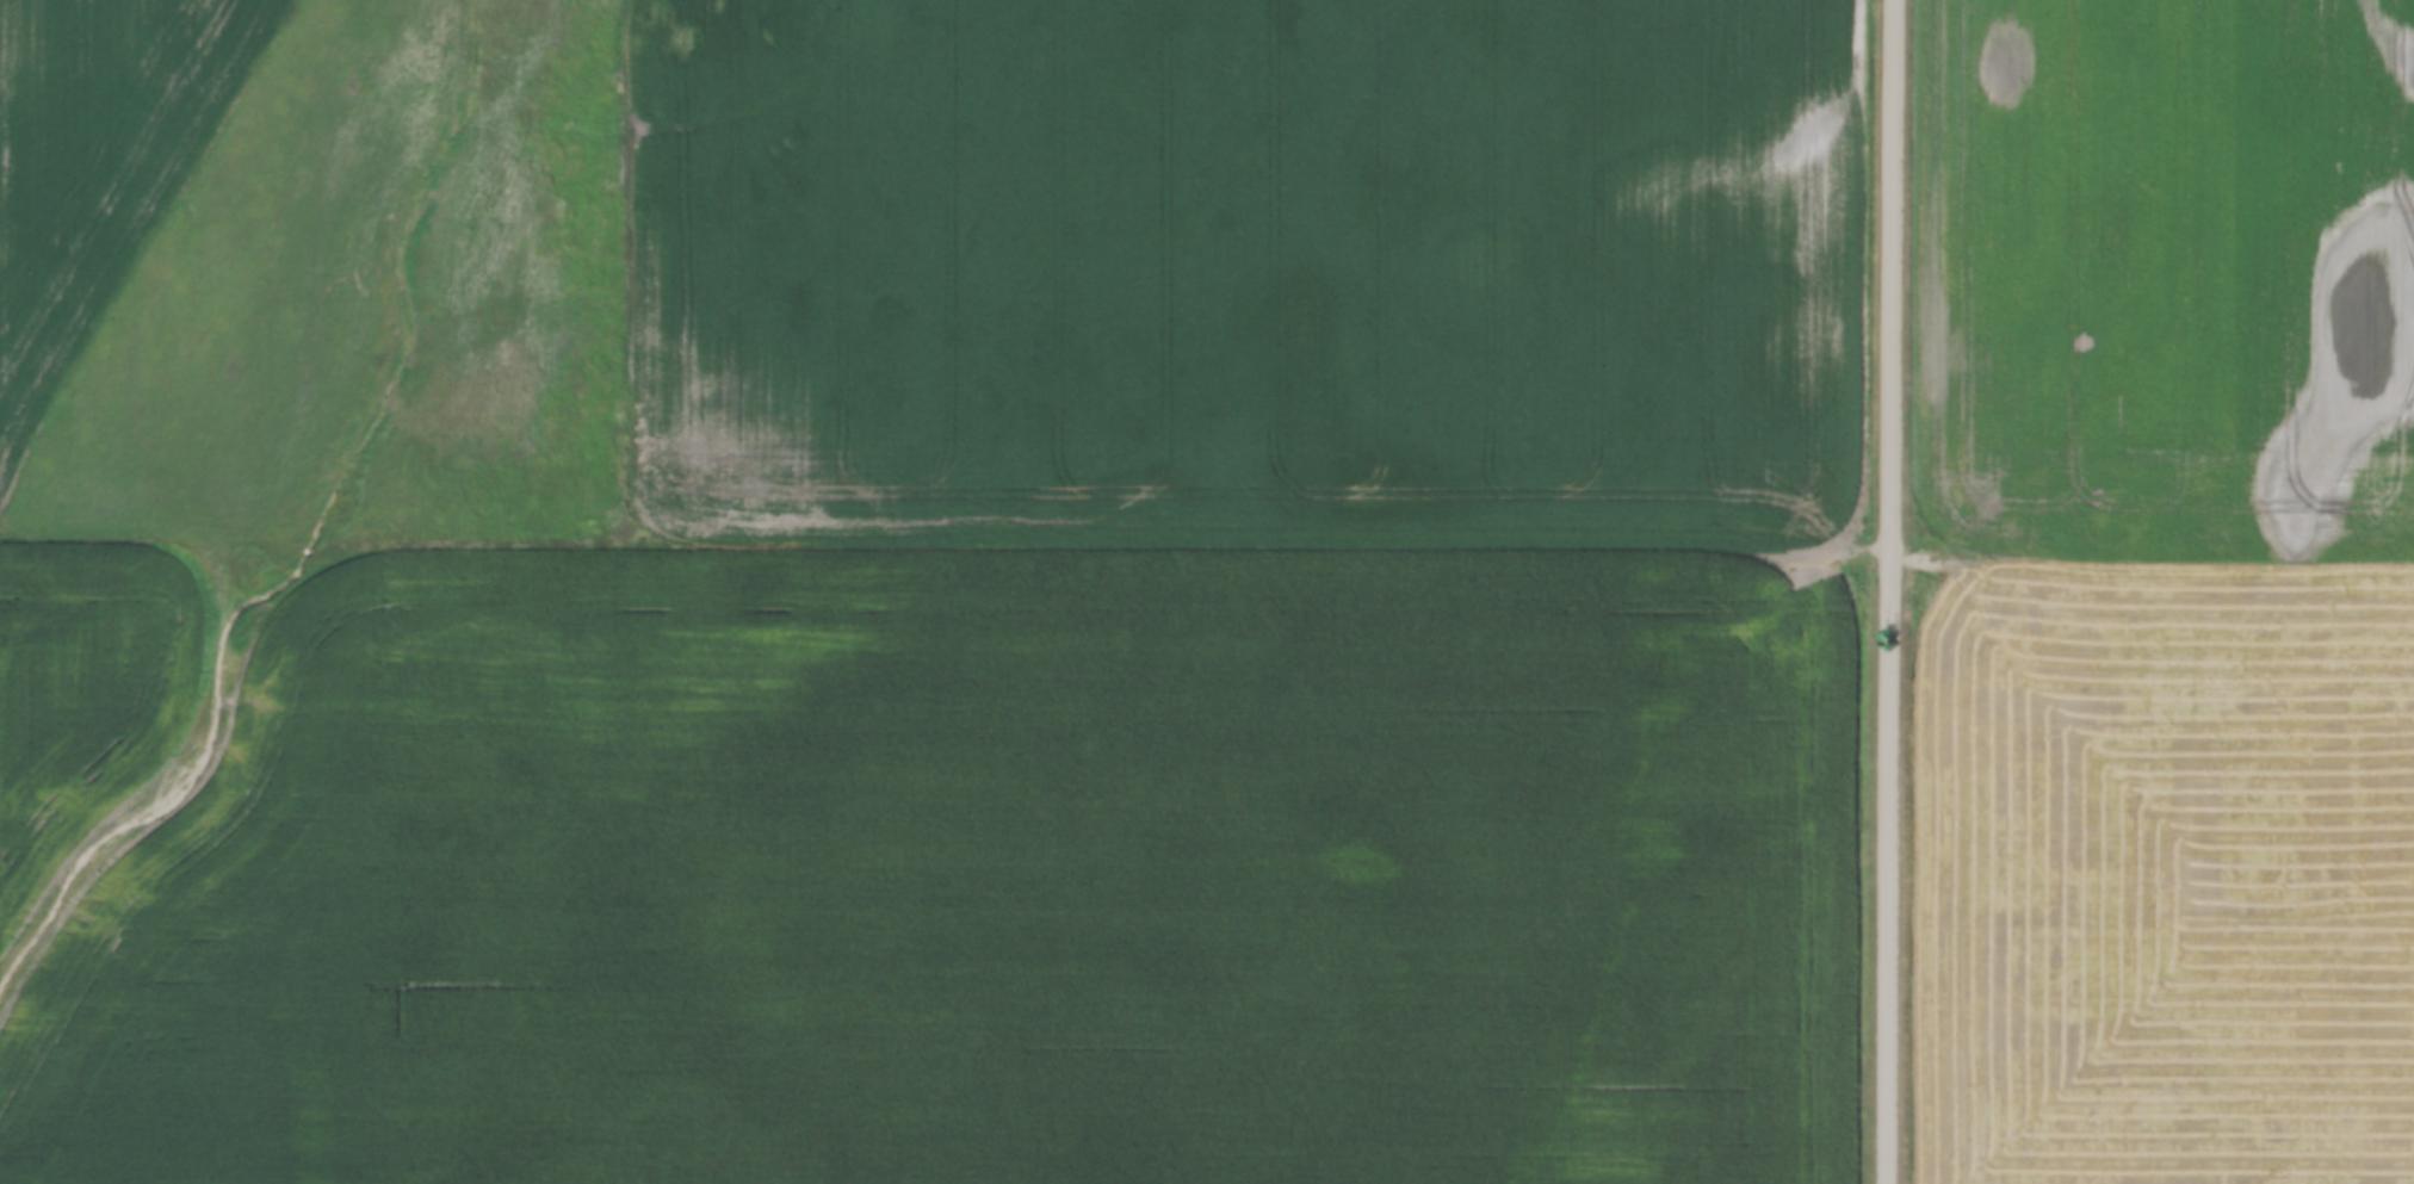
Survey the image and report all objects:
road: (1889, 591)

